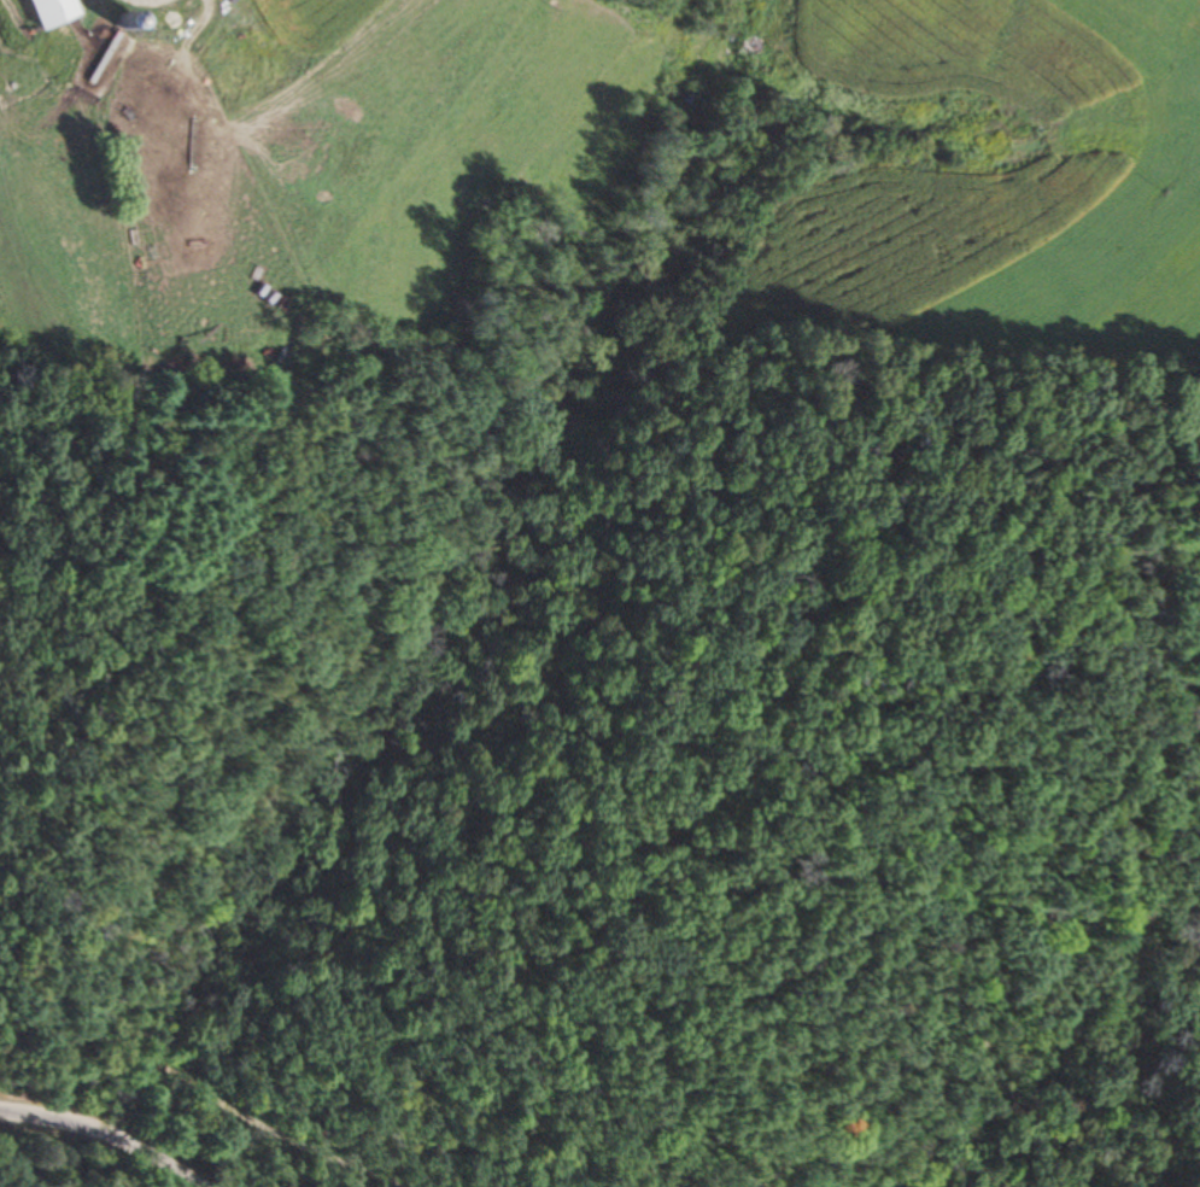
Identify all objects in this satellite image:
building: (54, 11)
road: (973, 973)
road: (276, 1075)
road: (117, 1133)

